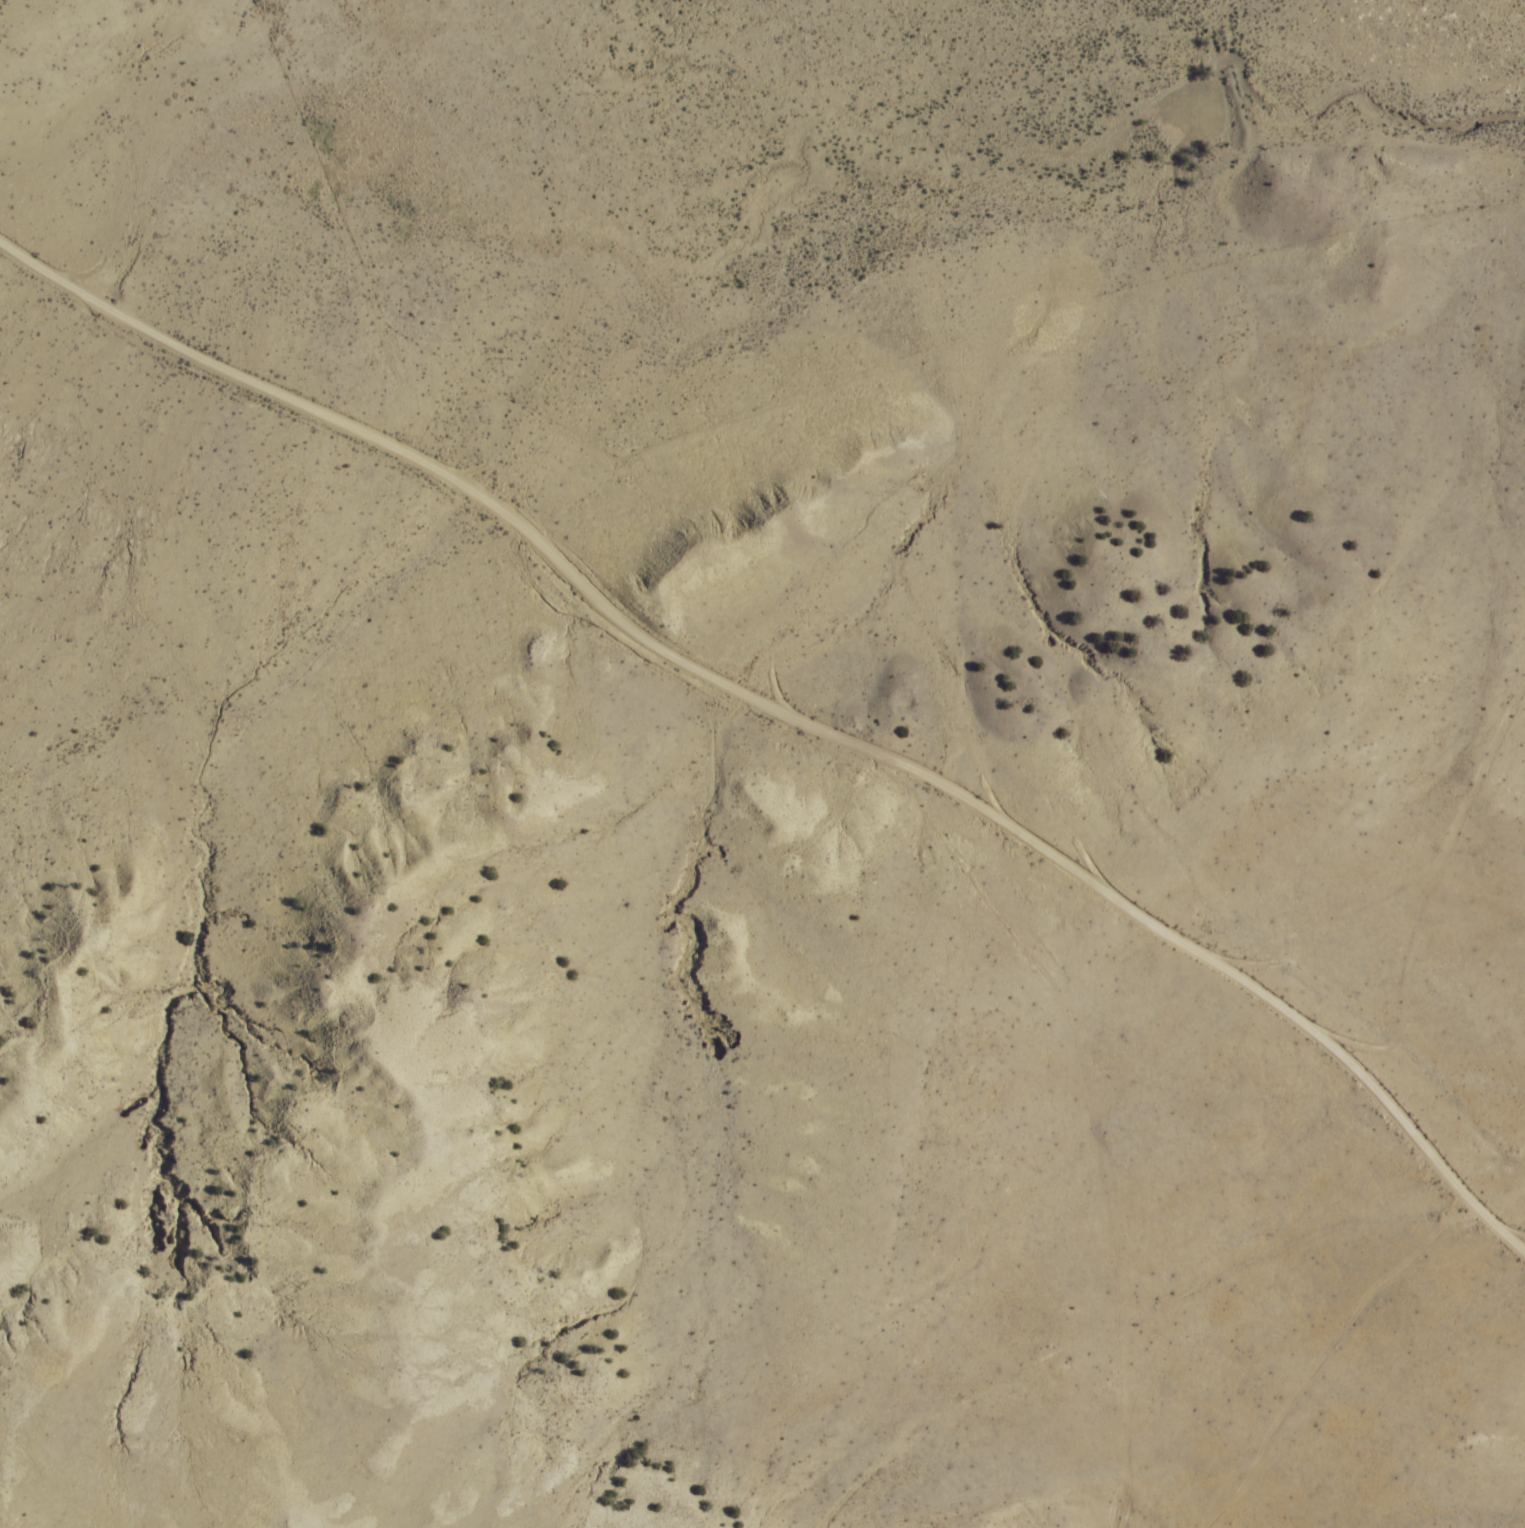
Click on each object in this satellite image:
road: (788, 711)

